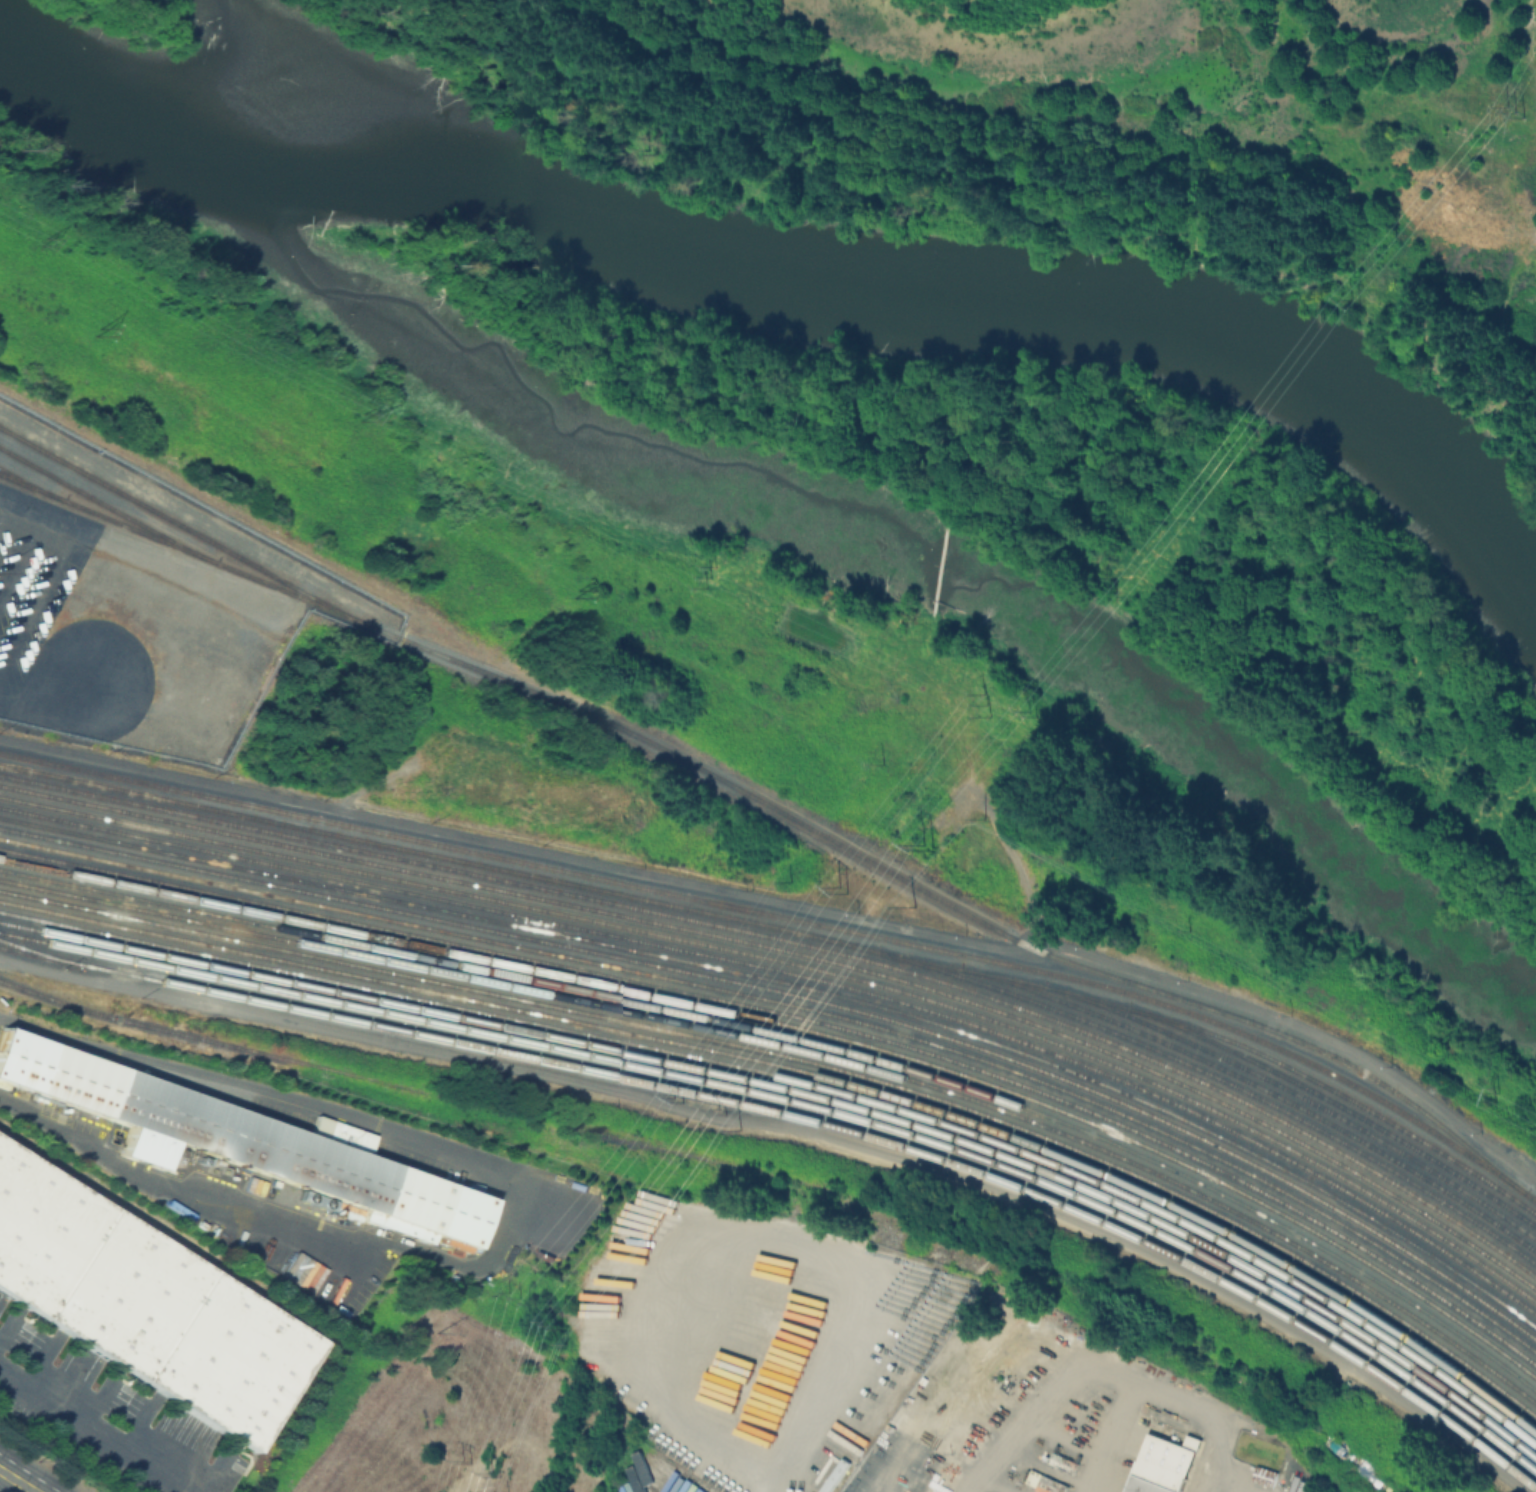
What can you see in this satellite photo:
railway: (30, 482)
railway: (106, 504)
road: (5, 508)
railway: (183, 523)
road: (22, 555)
road: (57, 567)
parking lot: (59, 632)
railway: (761, 798)
railway: (789, 915)
railway: (790, 928)
railway: (797, 941)
railway: (38, 951)
railway: (798, 952)
railway: (798, 964)
railway: (798, 975)
railway: (799, 984)
railway: (800, 995)
railway: (800, 1006)
railway: (800, 1017)
railway: (801, 1028)
railway: (802, 1038)
railway: (802, 1048)
railway: (803, 1060)
railway: (77, 1063)
railway: (803, 1071)
railway: (804, 1080)
railway: (391, 1083)
railway: (1231, 1083)
railway: (804, 1092)
railway: (1271, 1092)
railway: (1310, 1099)
railway: (805, 1101)
railway: (1342, 1104)
railway: (805, 1116)
building: (241, 1138)
road: (510, 1207)
building: (302, 1271)
railway: (1109, 1299)
building: (146, 1307)
road: (1159, 1395)
railway: (1267, 1409)
road: (99, 1426)
building: (1162, 1464)
road: (472, 1474)
building: (1262, 1474)
road: (18, 1480)
building: (838, 1481)
building: (1043, 1482)

